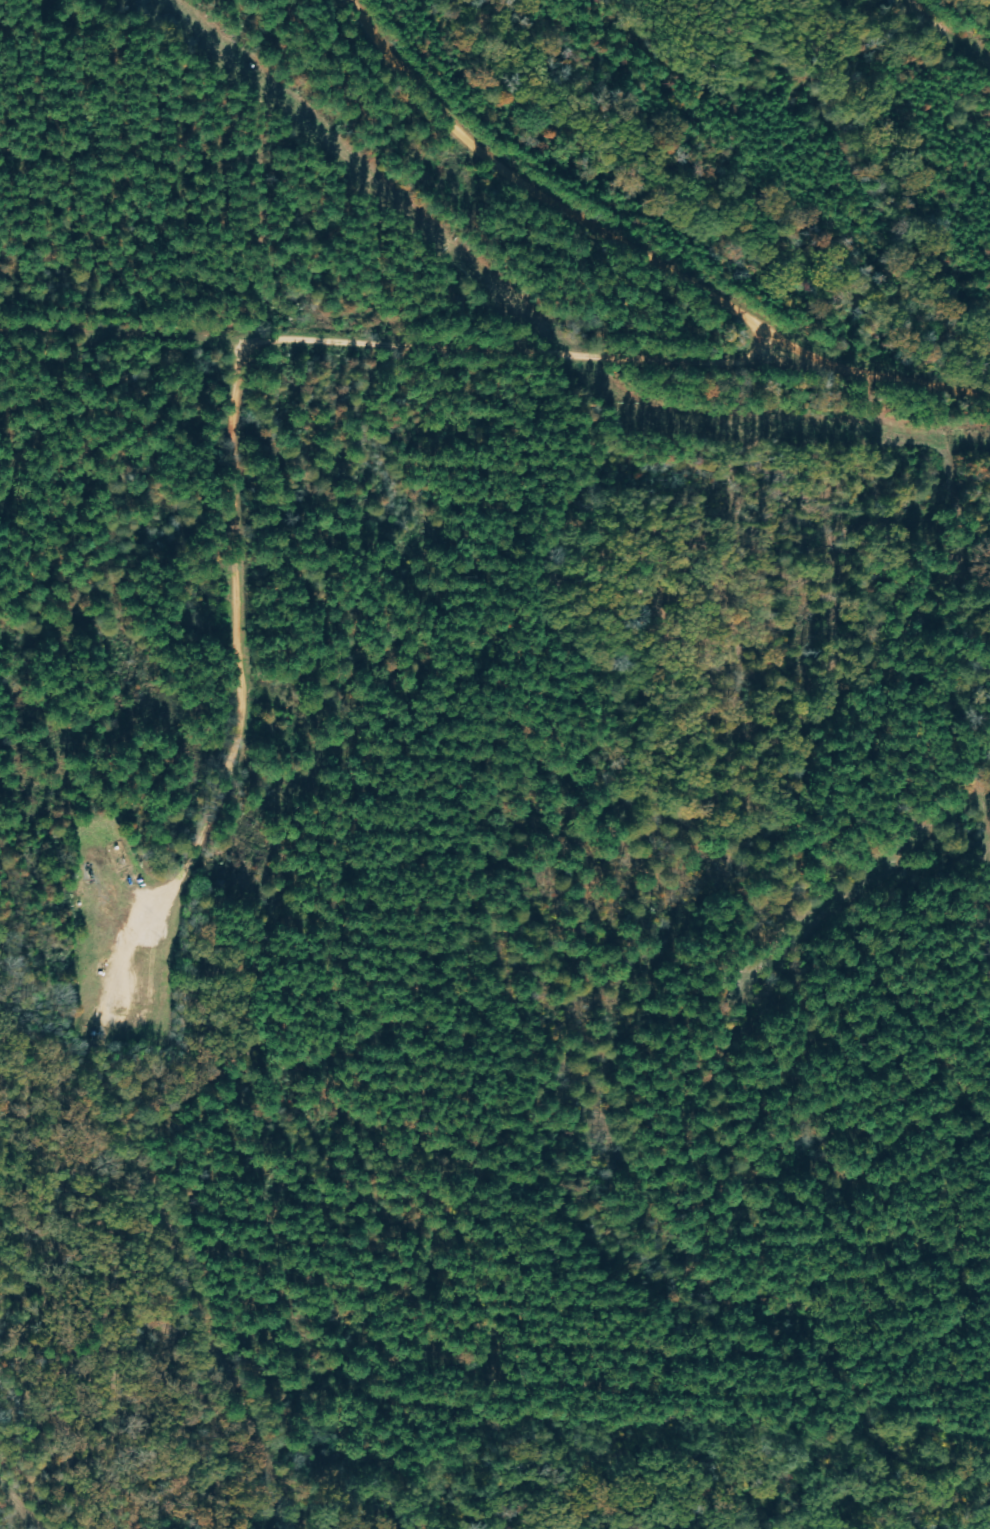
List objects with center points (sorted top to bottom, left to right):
road: (640, 253)
road: (239, 383)

